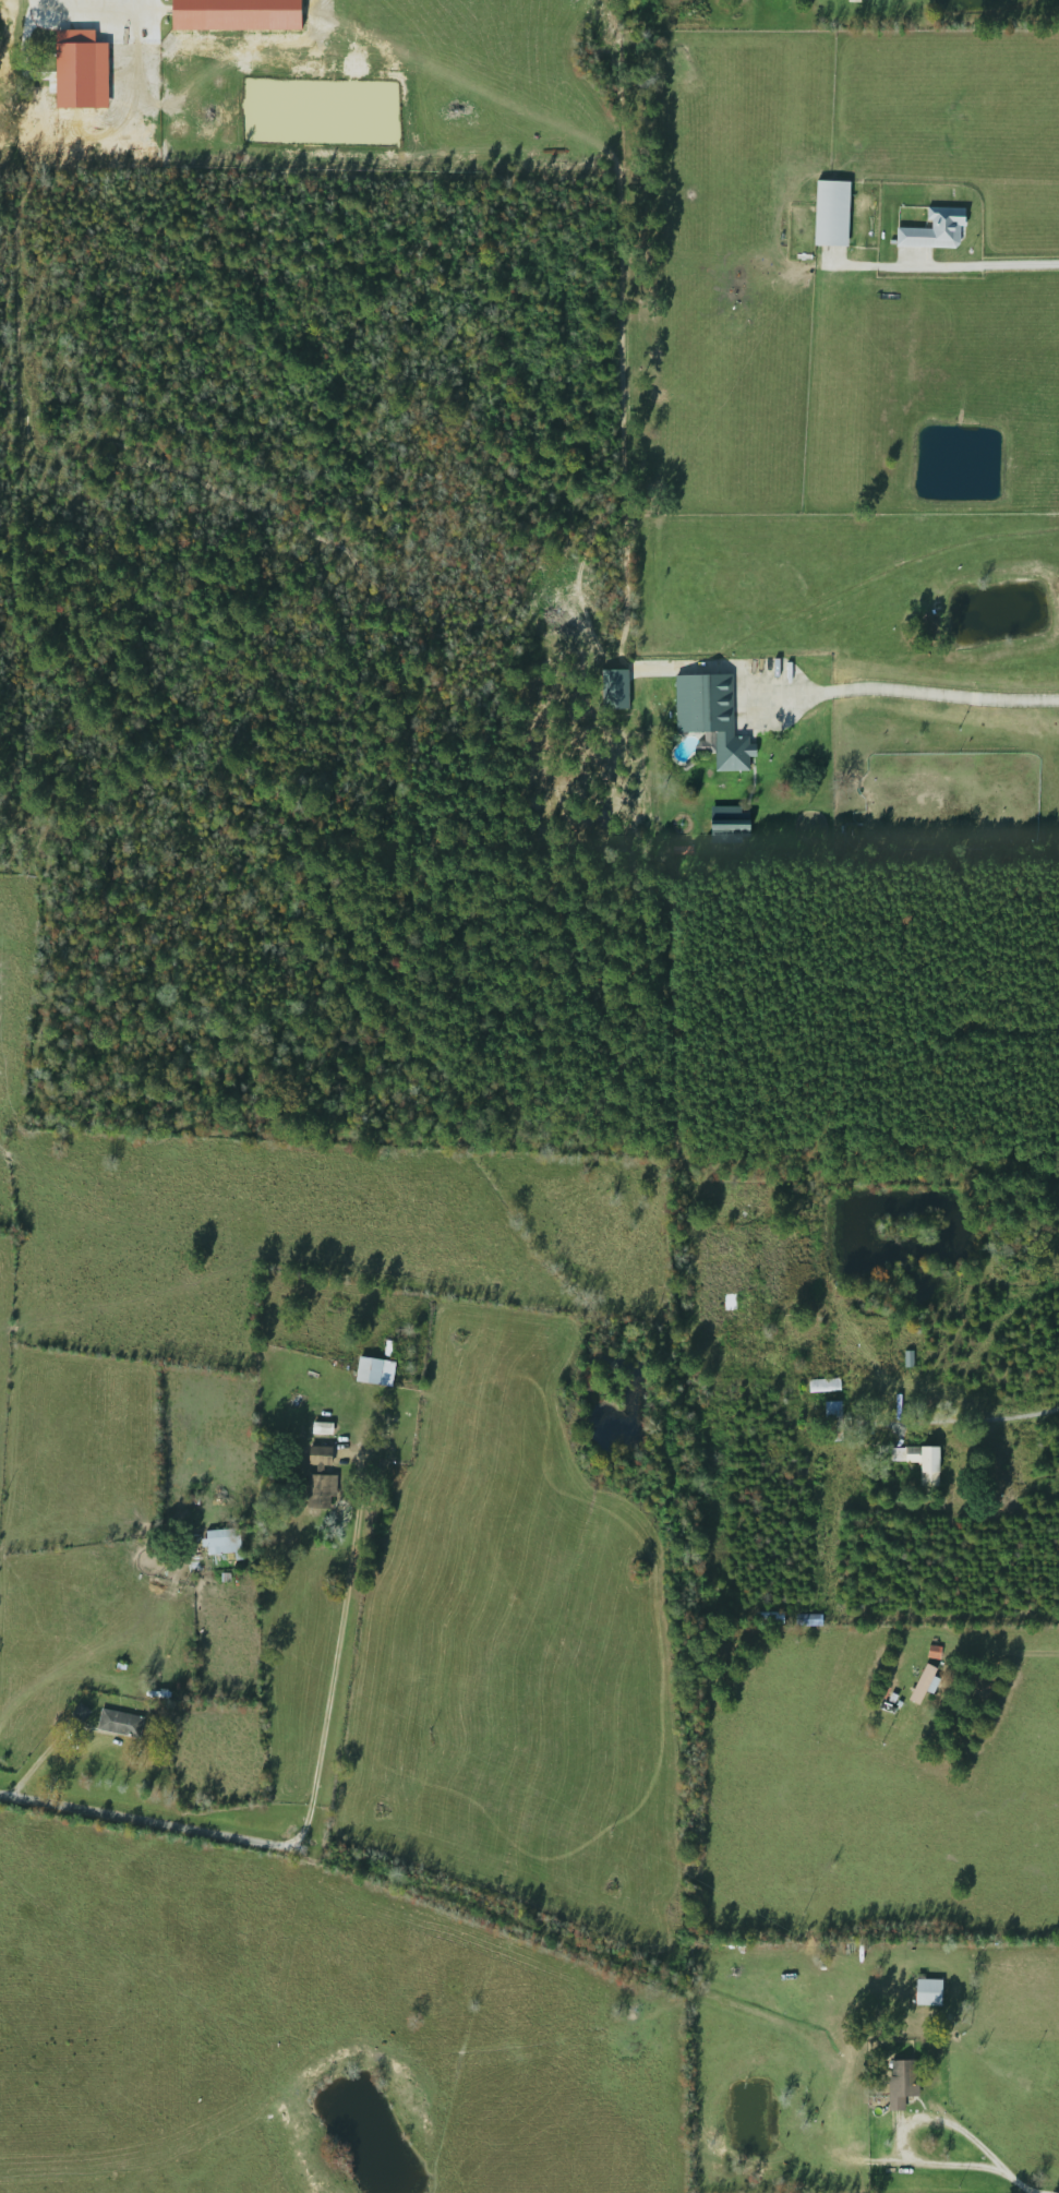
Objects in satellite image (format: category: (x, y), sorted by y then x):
road: (75, 12)
building: (832, 212)
building: (936, 228)
road: (990, 272)
building: (750, 686)
road: (928, 699)
building: (733, 750)
building: (730, 824)
building: (375, 1370)
building: (825, 1385)
road: (992, 1415)
building: (834, 1421)
building: (323, 1427)
building: (321, 1457)
building: (922, 1461)
building: (321, 1490)
building: (222, 1542)
building: (770, 1618)
building: (809, 1618)
road: (336, 1653)
building: (925, 1682)
building: (81, 1712)
building: (120, 1722)
road: (146, 1820)
building: (928, 1991)
building: (857, 2113)
road: (972, 2167)

